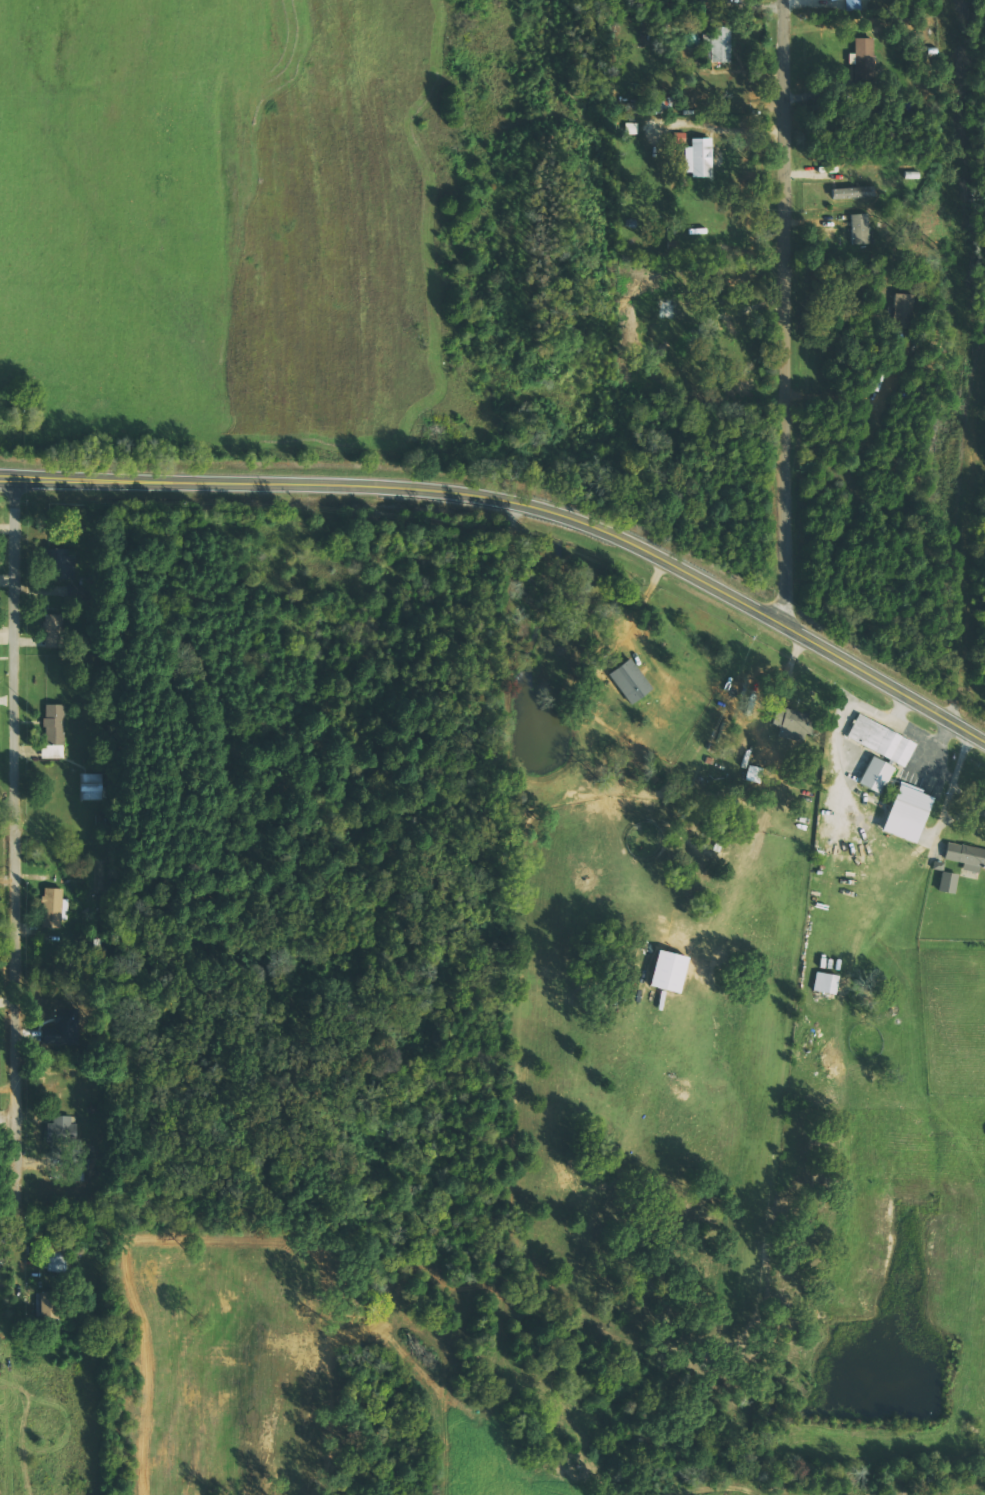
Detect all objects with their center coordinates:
building: (720, 44)
building: (863, 50)
building: (659, 105)
building: (631, 128)
building: (697, 157)
building: (853, 192)
building: (860, 228)
building: (903, 311)
road: (789, 312)
road: (520, 503)
building: (62, 562)
building: (53, 631)
building: (630, 680)
building: (789, 723)
building: (54, 724)
building: (881, 740)
building: (875, 775)
building: (91, 786)
building: (906, 813)
road: (20, 841)
building: (966, 856)
building: (938, 865)
building: (947, 882)
building: (51, 908)
building: (668, 971)
building: (825, 983)
road: (10, 1125)

